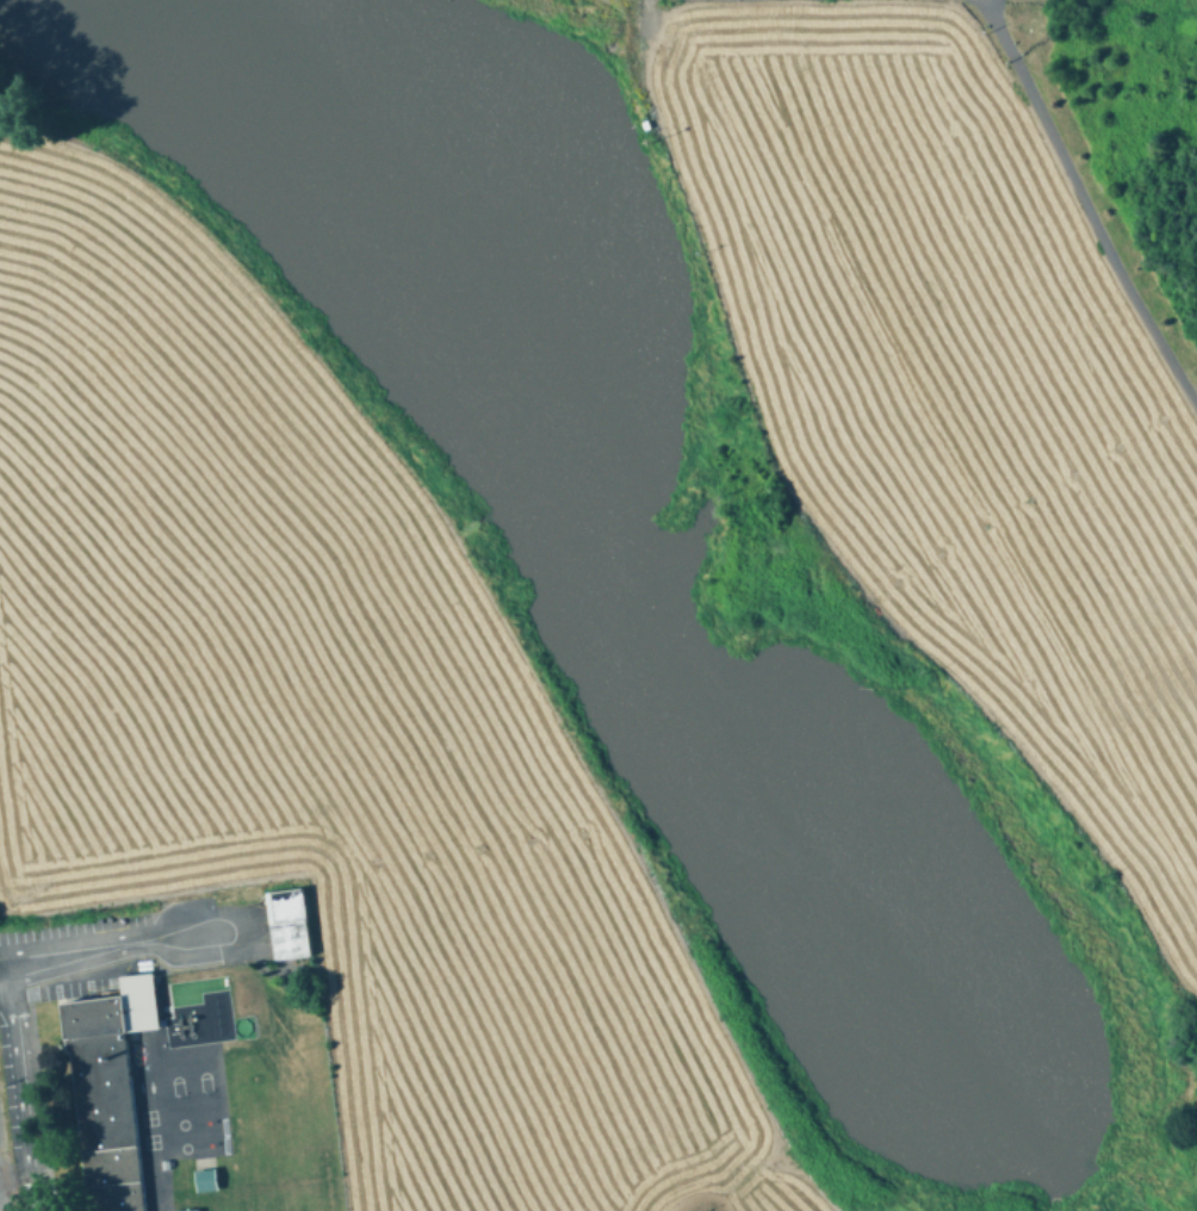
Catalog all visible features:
road: (1087, 200)
crop: (312, 732)
road: (241, 913)
building: (286, 923)
road: (6, 980)
park: (241, 1024)
road: (20, 1080)
park: (204, 1080)
park: (175, 1083)
building: (107, 1089)
park: (147, 1116)
park: (181, 1122)
park: (150, 1139)
park: (184, 1145)
building: (163, 1162)
building: (205, 1179)
crop: (765, 1185)
road: (30, 1196)
building: (188, 1209)

